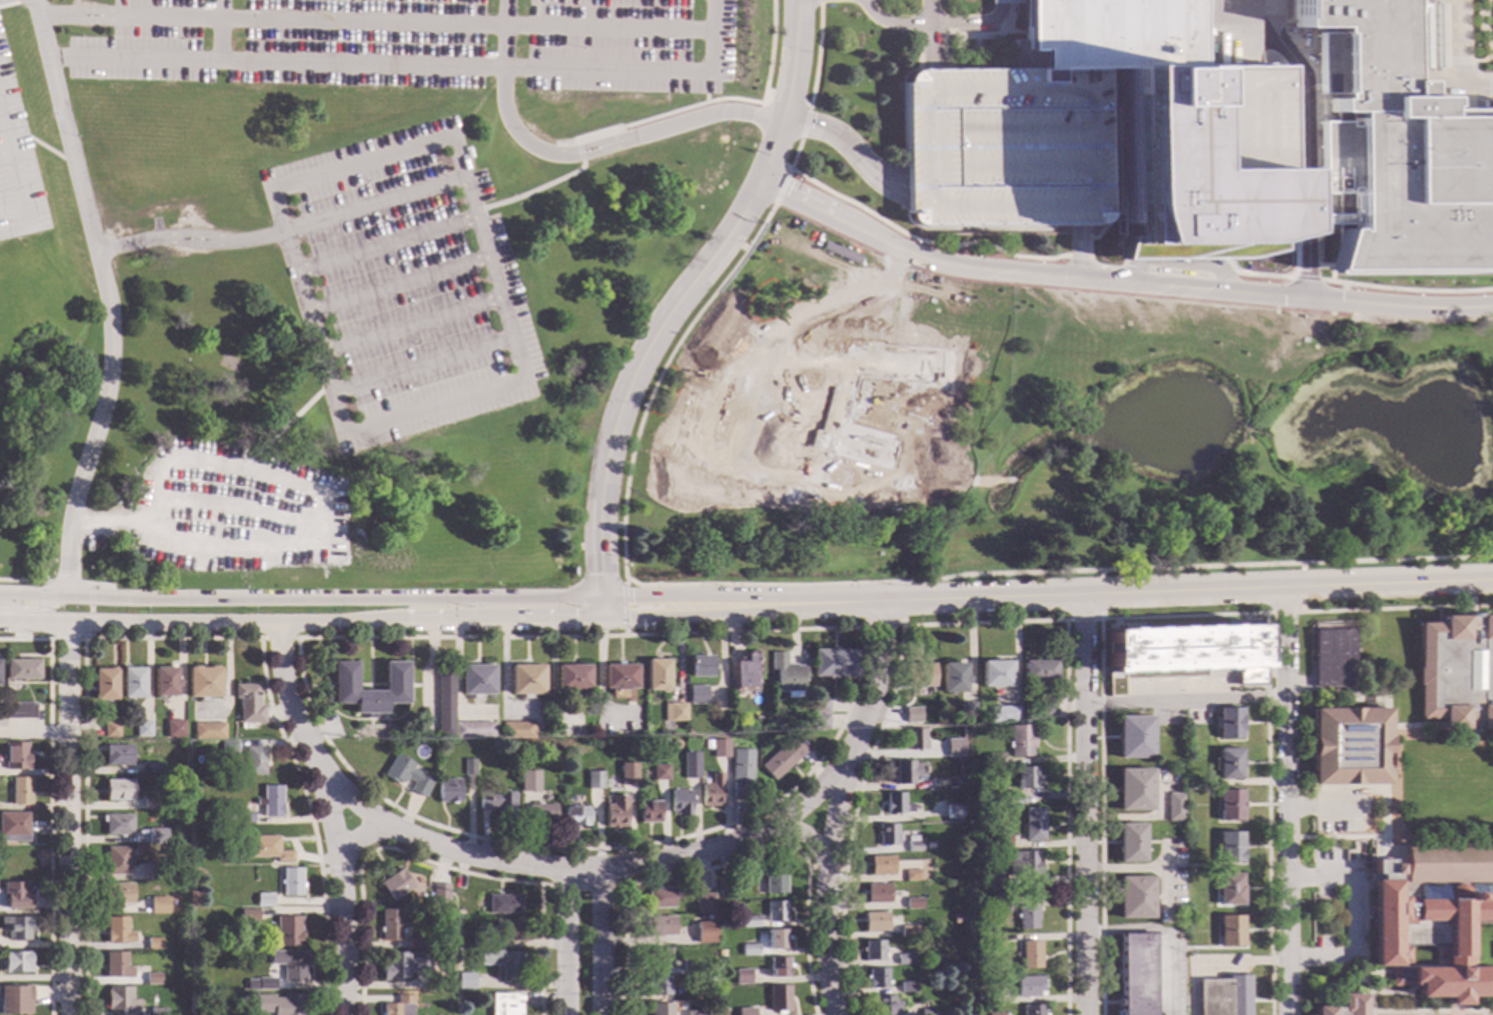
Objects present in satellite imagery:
road: (1, 0)
road: (20, 1)
road: (820, 2)
road: (1013, 2)
road: (9, 4)
road: (372, 22)
road: (936, 24)
road: (1008, 26)
road: (221, 31)
road: (932, 35)
parking lot: (420, 43)
road: (771, 52)
road: (816, 57)
road: (1419, 58)
road: (1456, 59)
road: (413, 65)
road: (787, 92)
road: (1307, 103)
road: (666, 114)
road: (804, 124)
building: (1200, 140)
road: (846, 147)
parking garage: (1004, 147)
road: (579, 153)
road: (579, 154)
road: (793, 158)
road: (359, 164)
parking lot: (17, 166)
road: (17, 181)
road: (780, 190)
road: (529, 193)
road: (372, 206)
road: (1307, 218)
road: (189, 240)
road: (384, 245)
road: (1077, 251)
road: (485, 259)
road: (1307, 260)
road: (1137, 271)
road: (1117, 281)
road: (396, 284)
parking lot: (402, 285)
road: (106, 296)
road: (307, 313)
road: (408, 326)
road: (421, 366)
road: (635, 372)
road: (434, 408)
road: (153, 517)
traffic signals: (601, 575)
road: (25, 581)
road: (626, 583)
road: (852, 583)
road: (1388, 583)
road: (65, 584)
road: (96, 585)
road: (1299, 588)
road: (985, 596)
traffic signals: (632, 597)
road: (645, 597)
road: (1467, 597)
road: (300, 598)
road: (33, 608)
road: (601, 608)
road: (90, 611)
road: (624, 612)
road: (645, 618)
traffic signals: (575, 620)
road: (300, 624)
road: (892, 626)
road: (175, 639)
road: (279, 639)
road: (24, 640)
road: (66, 640)
road: (1272, 641)
building: (1184, 653)
building: (1331, 658)
building: (832, 663)
building: (700, 666)
building: (21, 670)
building: (1037, 670)
road: (1273, 672)
building: (1455, 672)
building: (744, 674)
building: (786, 674)
building: (994, 674)
building: (657, 675)
building: (917, 675)
building: (573, 677)
building: (620, 677)
building: (952, 678)
building: (477, 680)
building: (526, 680)
building: (0, 682)
building: (203, 682)
building: (132, 683)
building: (165, 683)
building: (104, 685)
parking lot: (1177, 685)
building: (696, 696)
building: (369, 697)
road: (1182, 701)
building: (445, 702)
road: (1333, 702)
building: (248, 704)
building: (819, 705)
building: (1045, 706)
building: (966, 710)
building: (19, 711)
building: (674, 713)
building: (1003, 714)
building: (911, 715)
building: (819, 722)
building: (775, 723)
building: (1226, 723)
building: (731, 724)
building: (175, 729)
building: (111, 730)
building: (143, 730)
building: (208, 731)
building: (474, 731)
building: (518, 731)
road: (1439, 731)
road: (1469, 731)
road: (34, 735)
building: (400, 735)
building: (1132, 737)
building: (348, 738)
building: (914, 739)
building: (663, 740)
building: (1019, 741)
building: (707, 744)
building: (1348, 746)
building: (228, 747)
building: (719, 748)
building: (548, 749)
building: (955, 750)
building: (118, 755)
building: (16, 756)
building: (781, 759)
building: (993, 759)
building: (252, 762)
building: (1227, 764)
building: (689, 766)
building: (468, 767)
building: (148, 769)
building: (739, 772)
building: (906, 772)
building: (658, 773)
building: (626, 774)
building: (406, 775)
building: (1025, 778)
building: (593, 780)
building: (528, 781)
building: (937, 783)
building: (629, 785)
road: (1350, 786)
road: (1381, 788)
building: (118, 790)
building: (1133, 790)
building: (20, 791)
building: (448, 791)
building: (711, 792)
road: (1100, 792)
road: (1284, 800)
building: (271, 801)
building: (1009, 801)
building: (679, 802)
building: (497, 803)
road: (835, 803)
building: (150, 804)
building: (896, 804)
road: (1082, 804)
building: (1227, 805)
building: (1173, 807)
road: (1318, 808)
parking lot: (1337, 811)
building: (648, 812)
building: (953, 812)
building: (541, 813)
building: (615, 813)
road: (1267, 814)
road: (331, 816)
building: (575, 817)
road: (1066, 817)
building: (230, 818)
road: (69, 819)
building: (245, 819)
building: (117, 825)
building: (1032, 825)
building: (13, 828)
building: (230, 830)
building: (886, 835)
building: (156, 836)
road: (1334, 836)
road: (360, 838)
building: (145, 839)
road: (811, 841)
building: (1001, 842)
road: (1330, 842)
building: (1130, 843)
building: (912, 845)
building: (1228, 847)
building: (266, 848)
building: (116, 861)
building: (1022, 863)
building: (880, 866)
building: (157, 872)
road: (583, 872)
building: (912, 875)
building: (773, 881)
building: (995, 881)
building: (291, 882)
building: (395, 885)
building: (442, 888)
building: (722, 889)
building: (1227, 889)
road: (1364, 891)
building: (118, 893)
building: (877, 894)
building: (16, 895)
building: (1134, 898)
building: (659, 899)
building: (264, 900)
building: (913, 901)
building: (704, 903)
building: (503, 904)
building: (999, 904)
building: (150, 908)
building: (775, 911)
building: (458, 914)
building: (249, 916)
building: (1433, 916)
road: (1350, 917)
parking lot: (1352, 917)
building: (708, 918)
building: (1026, 918)
building: (955, 919)
building: (748, 921)
building: (874, 922)
building: (390, 925)
building: (660, 926)
building: (15, 927)
building: (506, 930)
building: (287, 931)
building: (907, 931)
building: (1228, 931)
building: (117, 932)
building: (704, 933)
building: (776, 939)
building: (992, 940)
building: (478, 943)
road: (567, 943)
building: (154, 944)
building: (413, 944)
road: (600, 944)
building: (748, 949)
building: (872, 950)
building: (720, 954)
building: (1030, 955)
building: (658, 958)
building: (904, 959)
building: (15, 962)
building: (503, 963)
building: (289, 964)
building: (403, 965)
building: (117, 966)
building: (690, 968)
building: (778, 968)
building: (1134, 973)
building: (741, 977)
road: (1362, 977)
building: (876, 978)
road: (1362, 978)
building: (153, 979)
building: (709, 979)
building: (464, 981)
building: (260, 985)
building: (658, 986)
building: (1028, 986)
building: (907, 987)
building: (1222, 996)
building: (984, 998)
building: (15, 999)
building: (778, 999)
building: (120, 1000)
building: (503, 1004)
building: (279, 1005)
building: (885, 1006)
building: (397, 1007)
building: (1343, 1007)
building: (658, 1009)
building: (1032, 1010)
road: (1455, 1010)
building: (745, 1011)
building: (157, 1012)
building: (928, 1012)
road: (1431, 1012)
building: (696, 1013)
building: (996, 1014)

